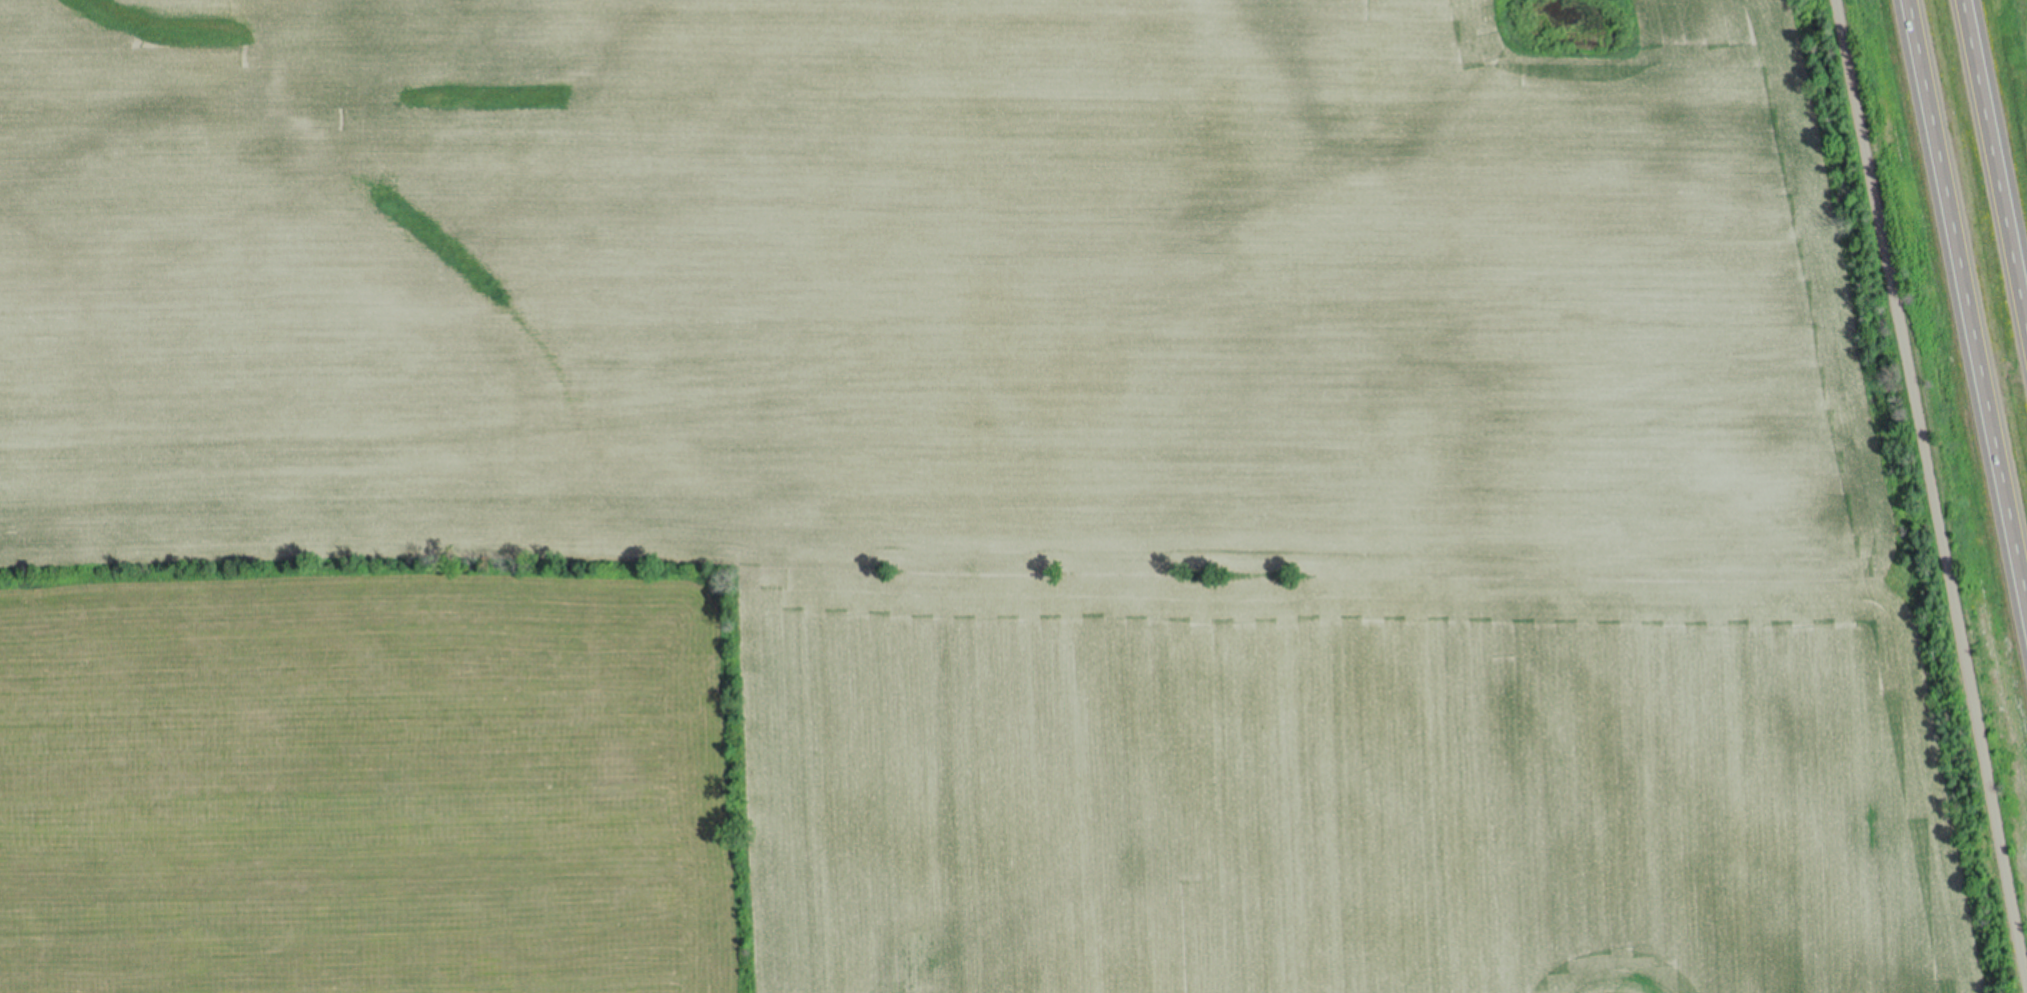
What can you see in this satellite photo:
road: (1995, 162)
road: (1970, 292)
road: (1931, 494)

